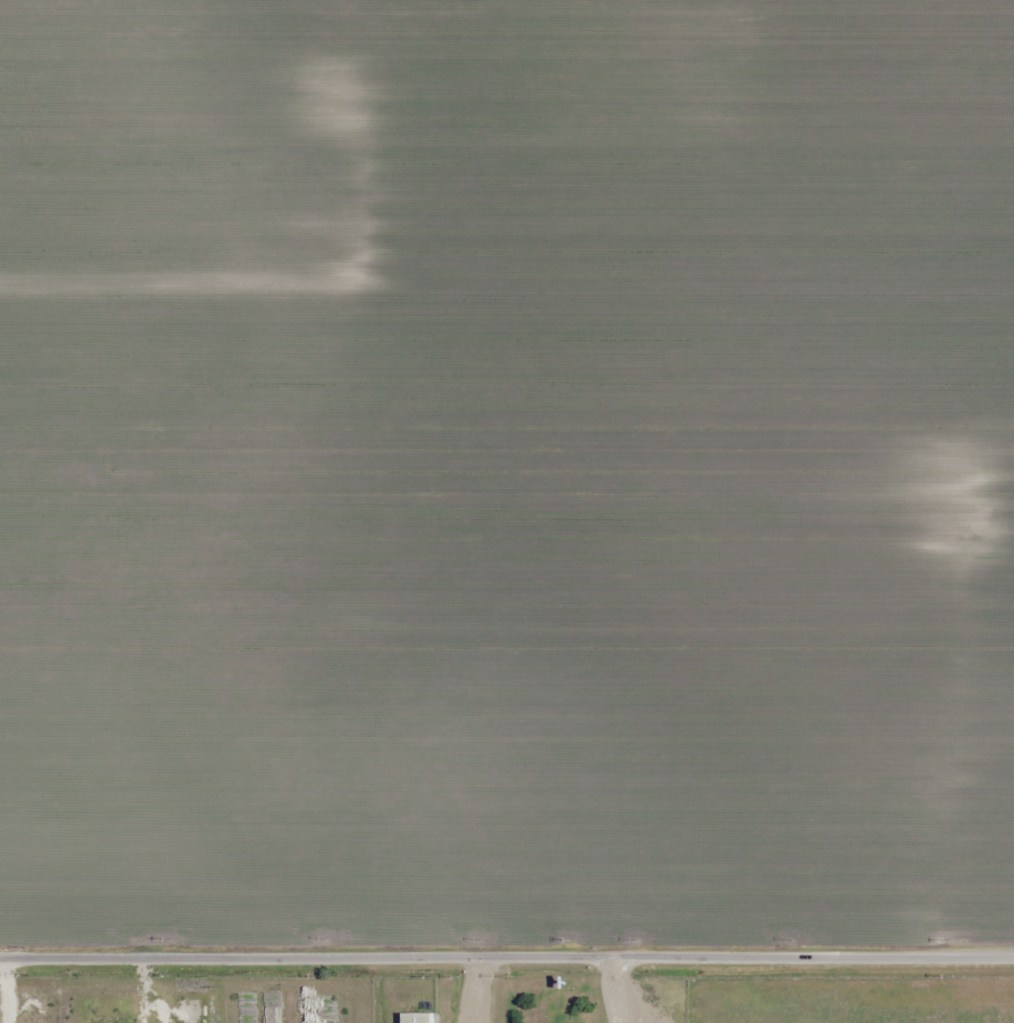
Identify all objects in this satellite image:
road: (507, 962)
building: (422, 1019)

